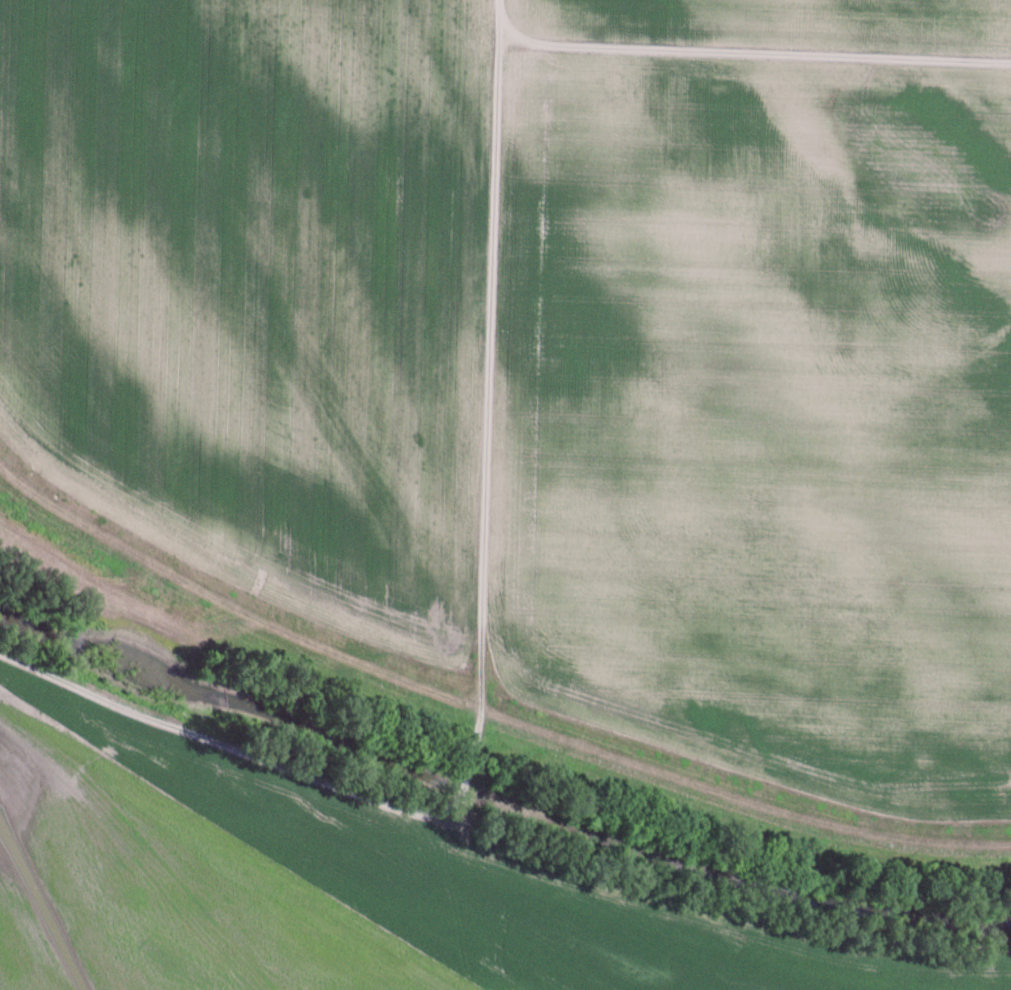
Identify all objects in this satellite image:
road: (480, 647)
road: (485, 712)

